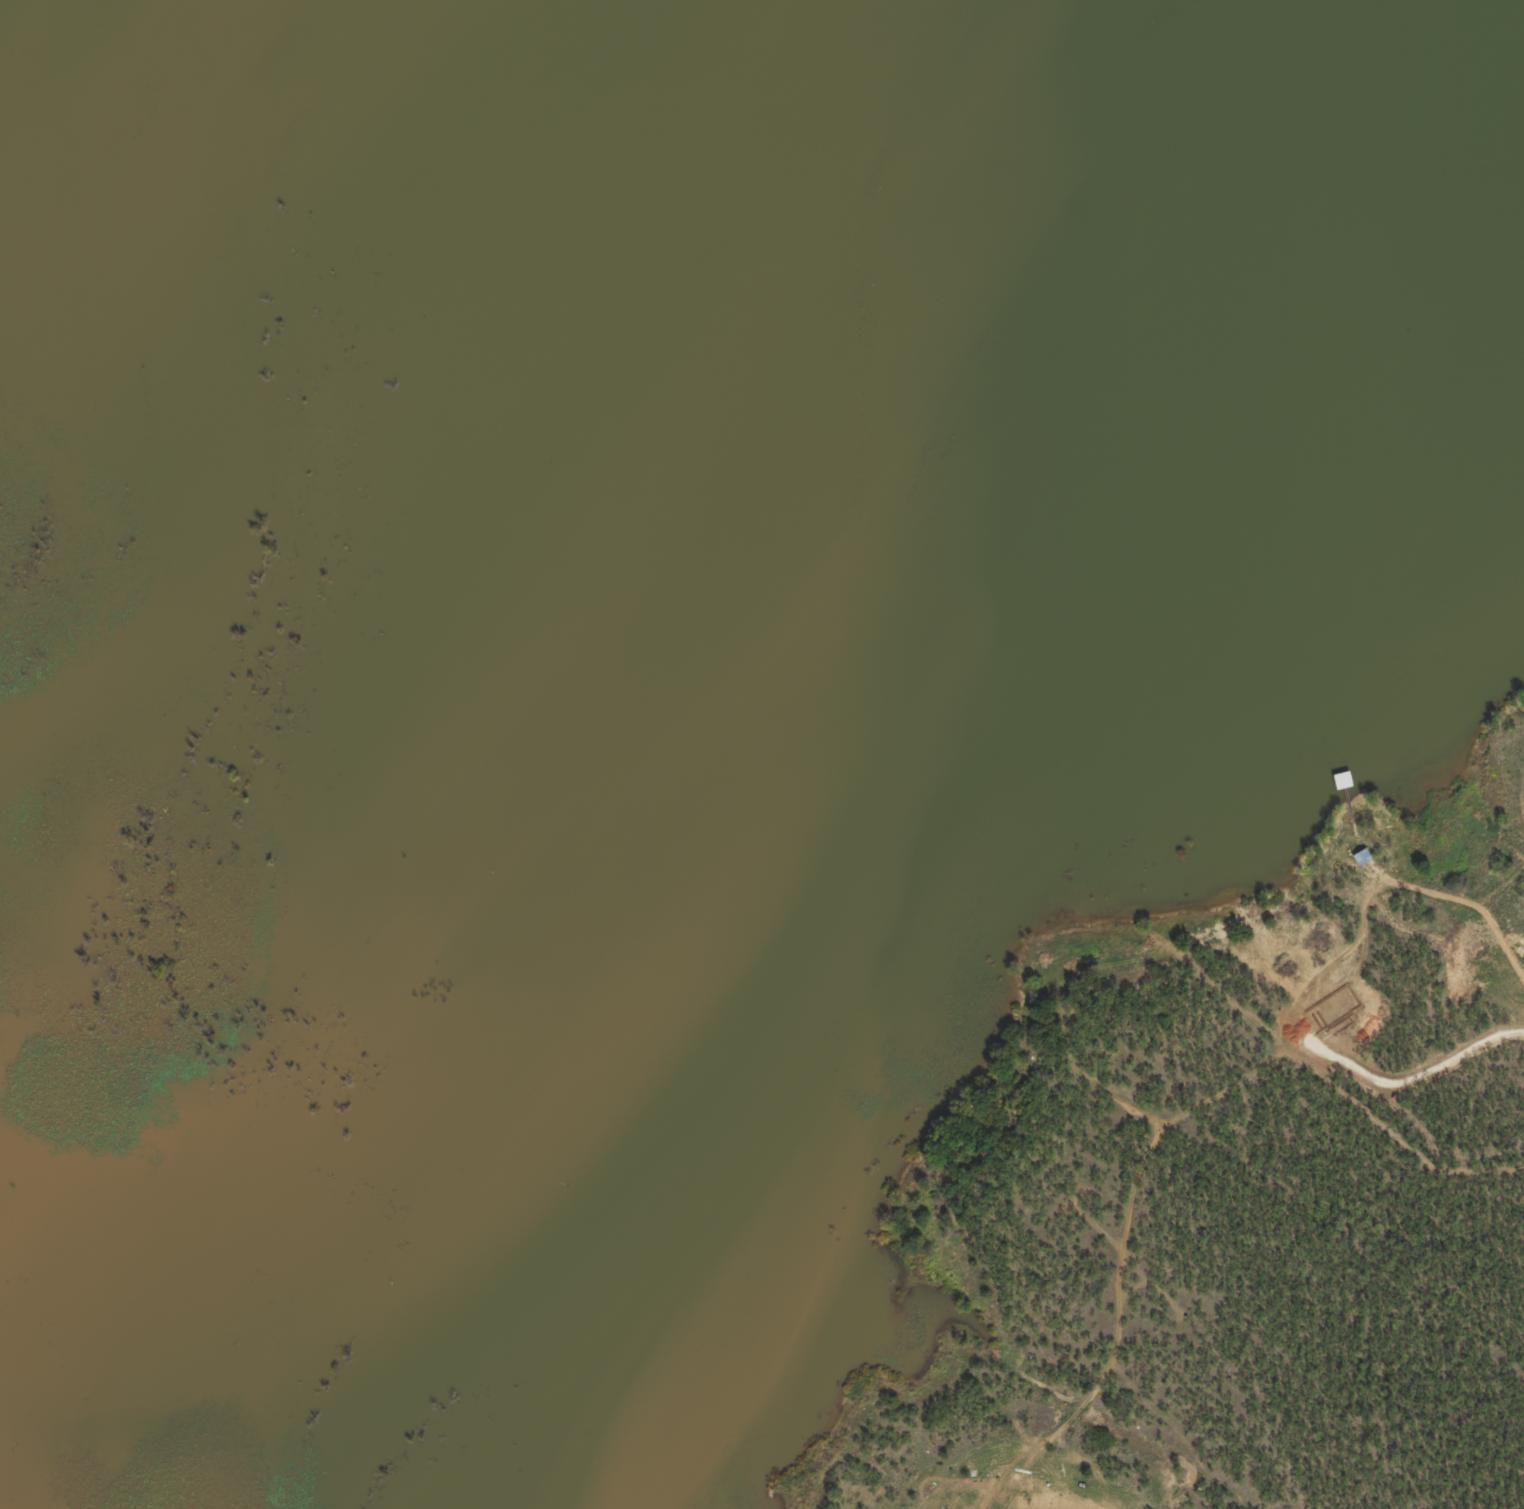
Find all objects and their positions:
building: (1343, 788)

